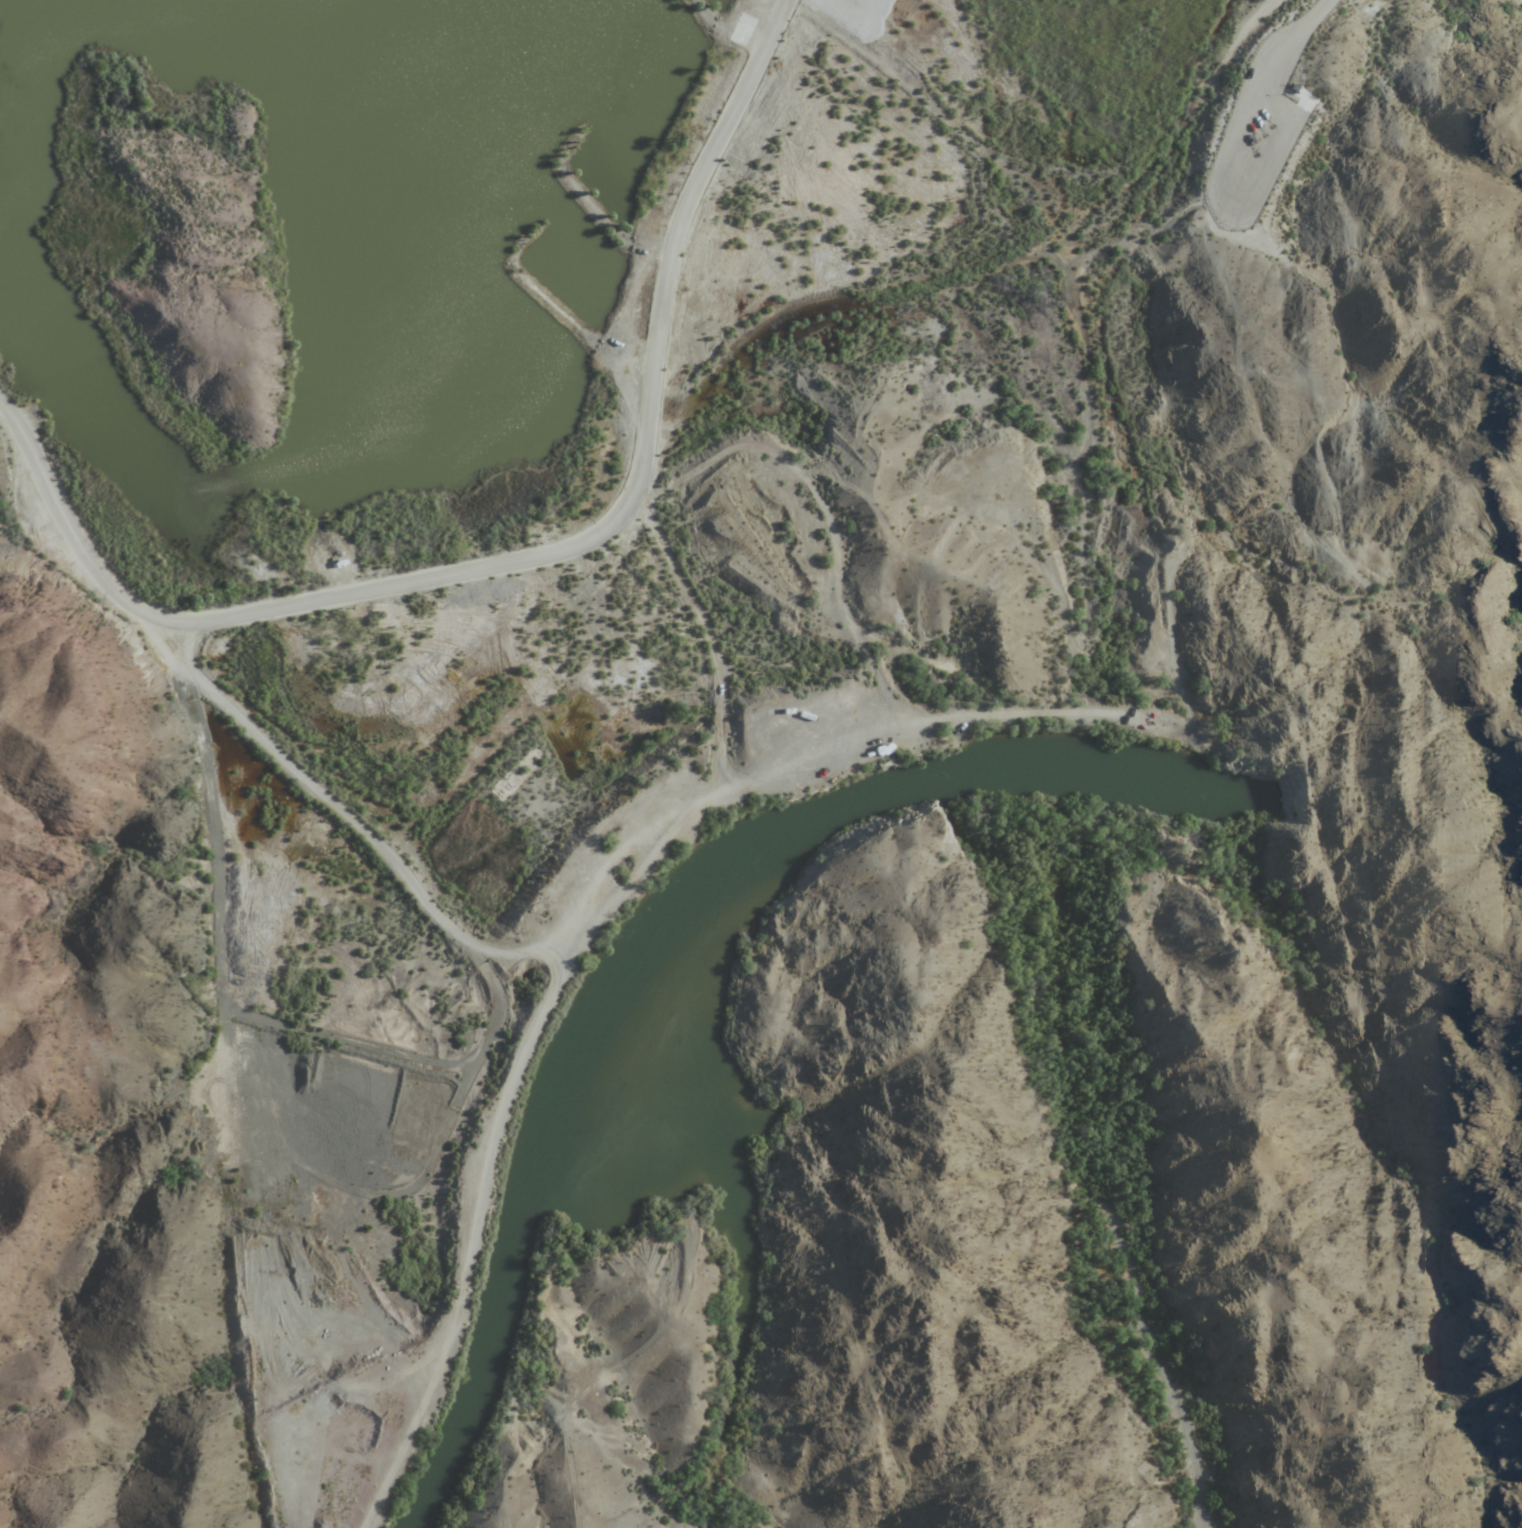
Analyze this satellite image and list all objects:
road: (1311, 14)
parking lot: (1261, 129)
road: (682, 210)
road: (778, 456)
road: (559, 551)
road: (403, 583)
road: (145, 612)
road: (337, 811)
river: (1395, 822)
river: (681, 953)
road: (488, 1132)

